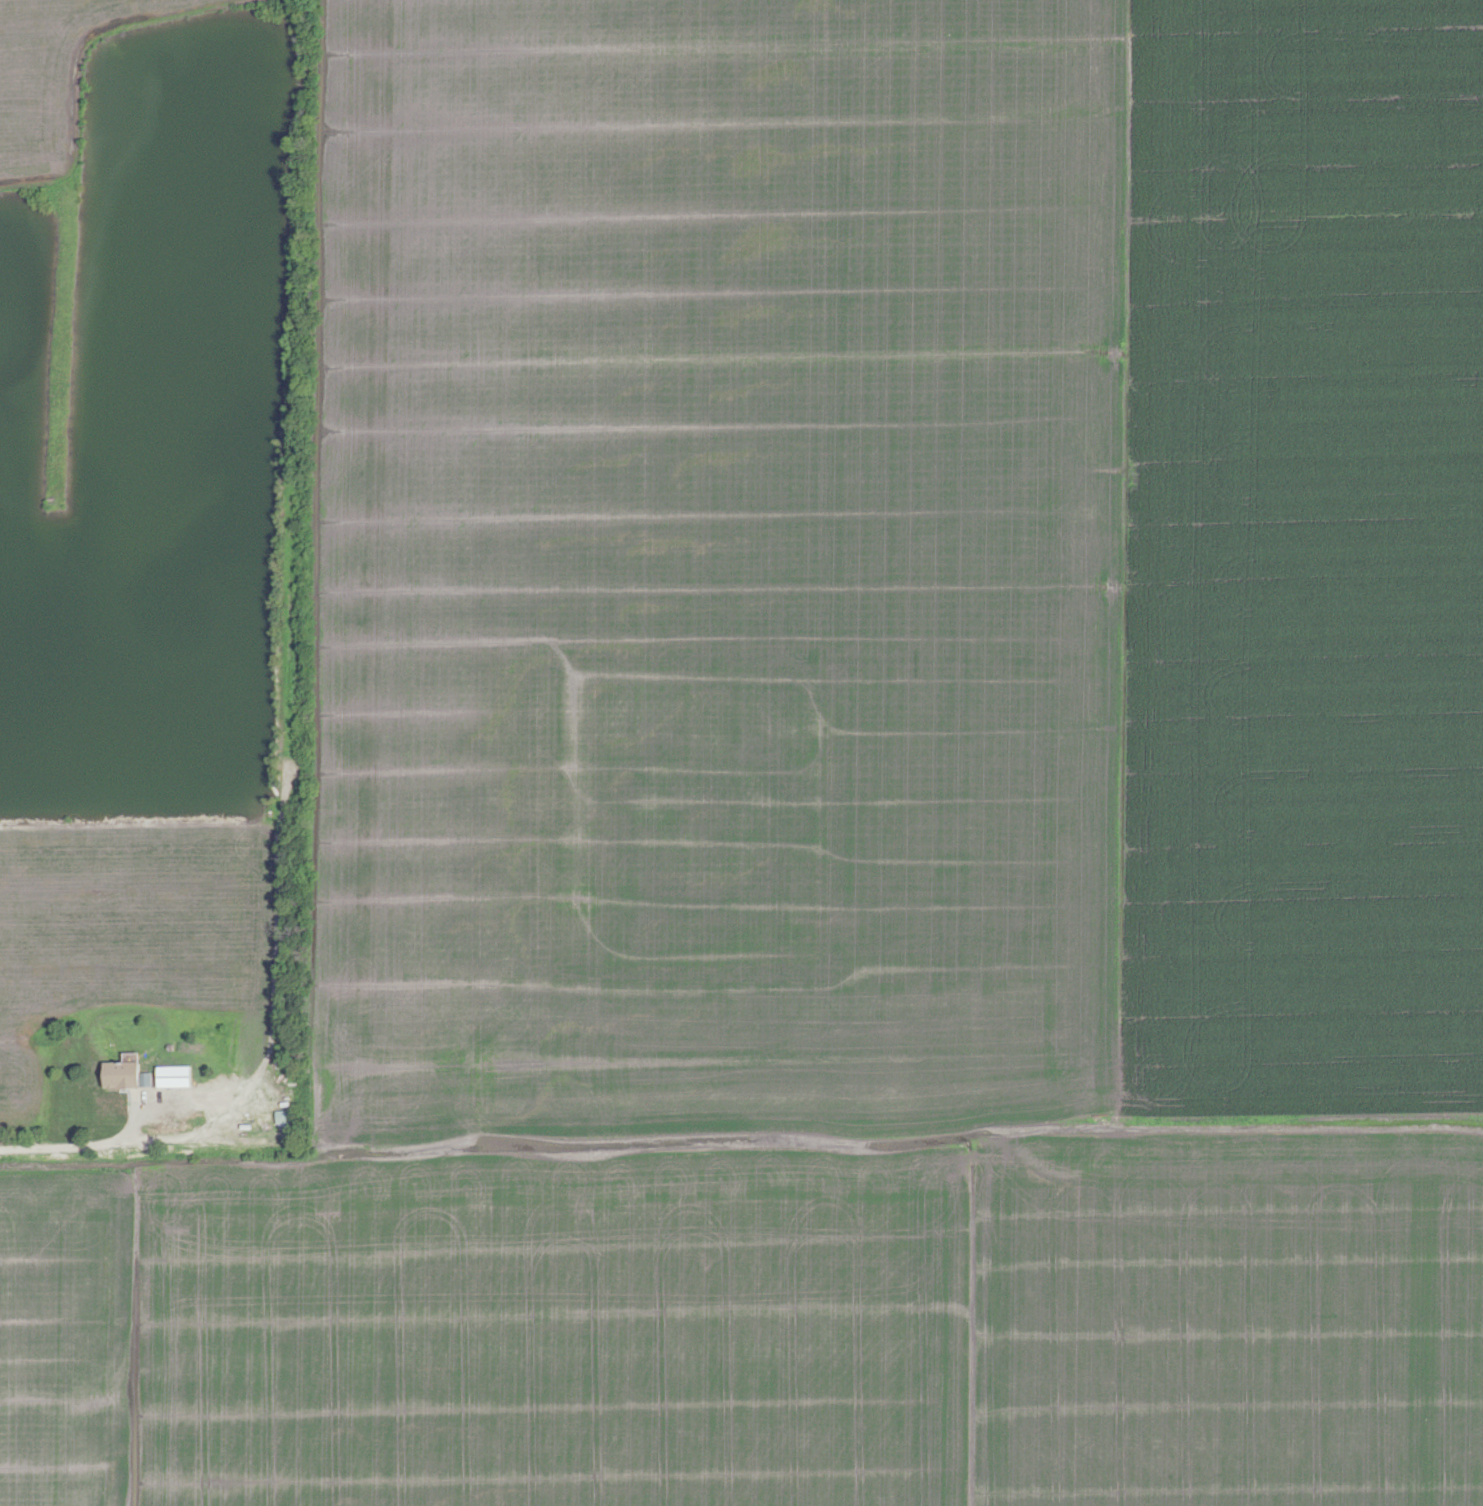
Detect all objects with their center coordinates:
road: (75, 1143)

